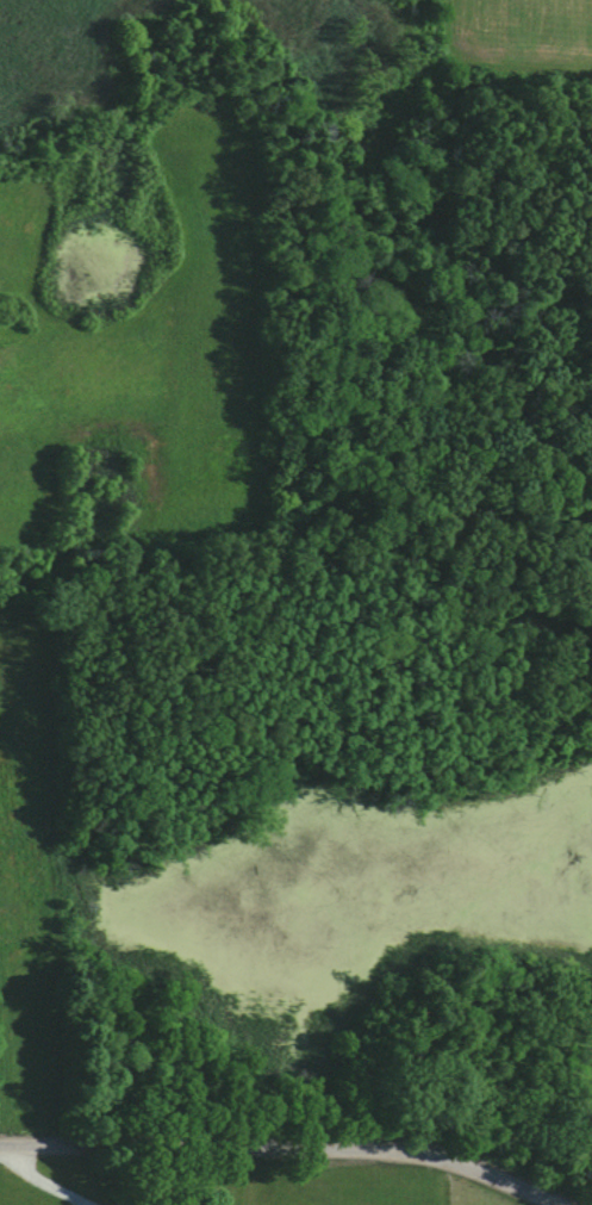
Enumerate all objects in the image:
road: (287, 1154)
road: (32, 1185)

